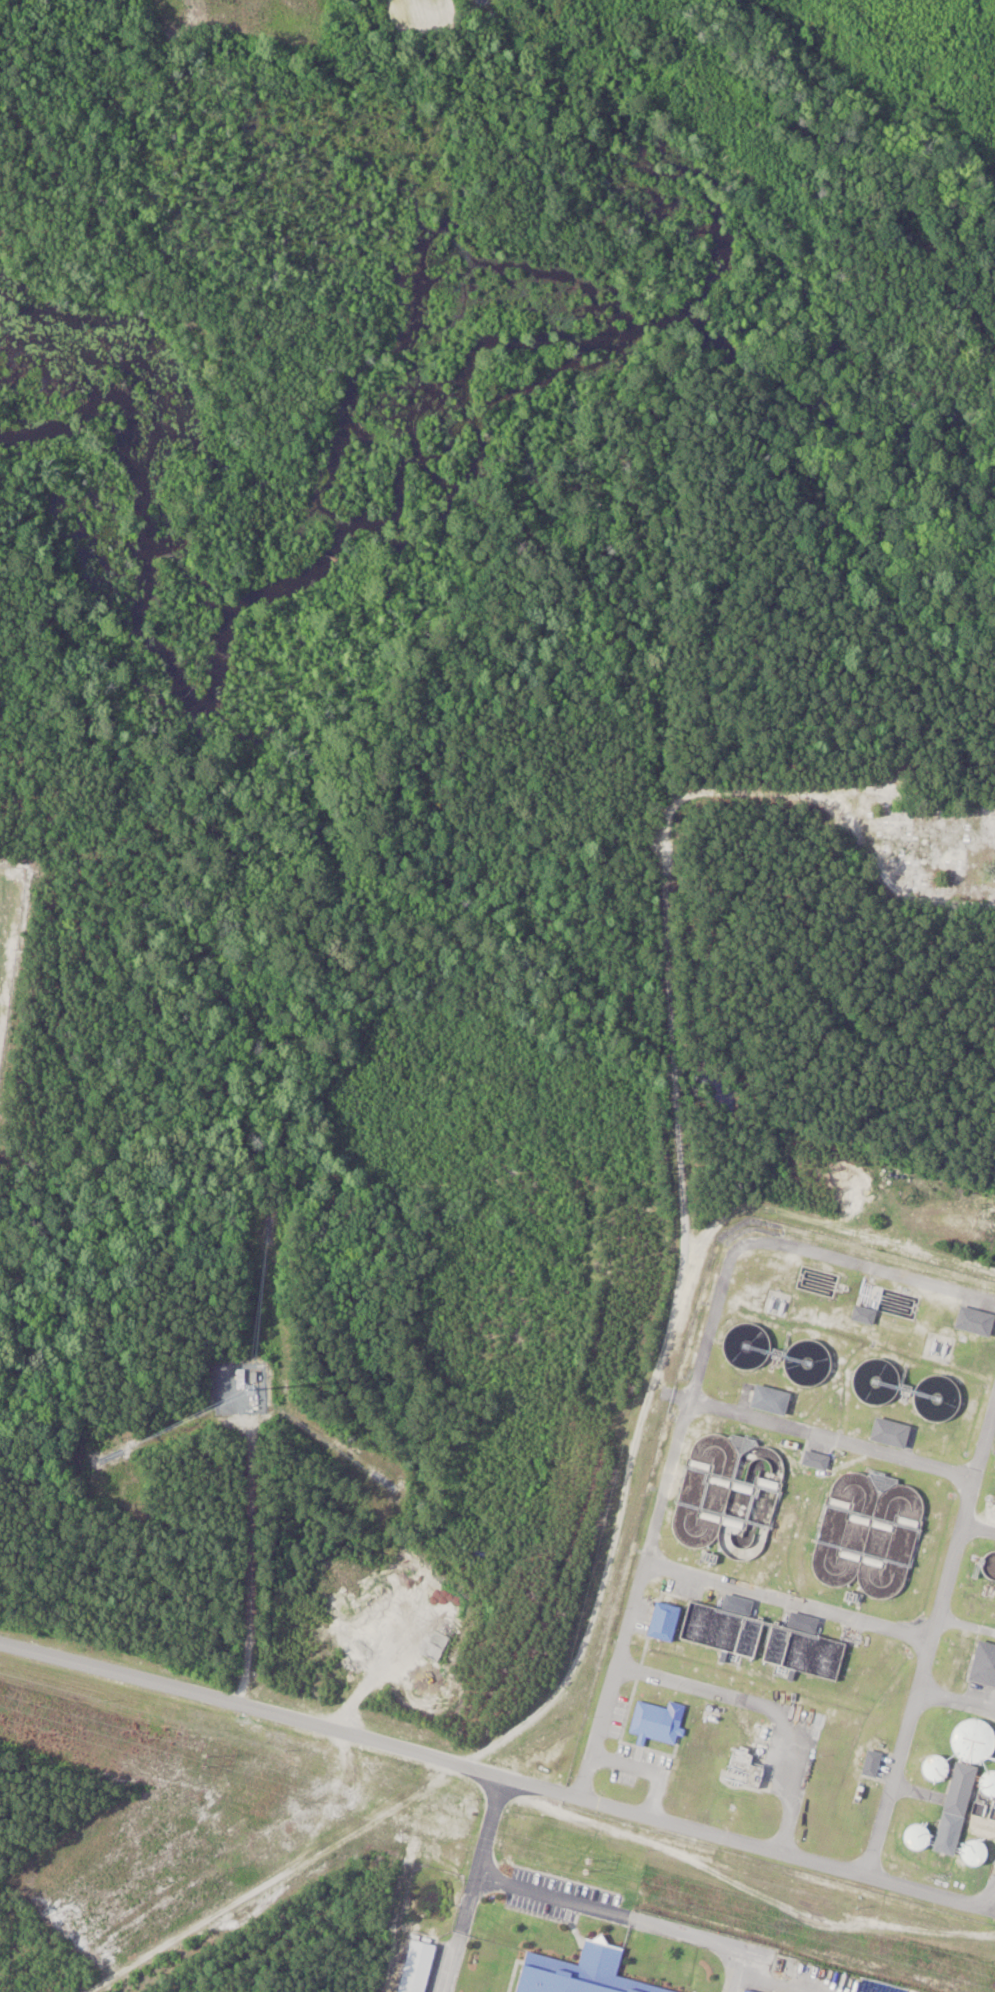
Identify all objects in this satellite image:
road: (489, 1)
park: (8, 916)
building: (975, 1321)
building: (243, 1379)
building: (256, 1379)
building: (894, 1433)
wastewater plant: (813, 1579)
building: (740, 1604)
building: (667, 1621)
building: (805, 1623)
building: (986, 1664)
building: (658, 1724)
building: (976, 1741)
power tower: (204, 1761)
building: (746, 1767)
building: (874, 1768)
building: (938, 1768)
road: (497, 1779)
building: (959, 1809)
road: (490, 1821)
building: (921, 1838)
power tower: (586, 1866)
road: (624, 1915)
road: (459, 1927)
building: (577, 1973)
power tower: (993, 1977)
building: (747, 1991)

